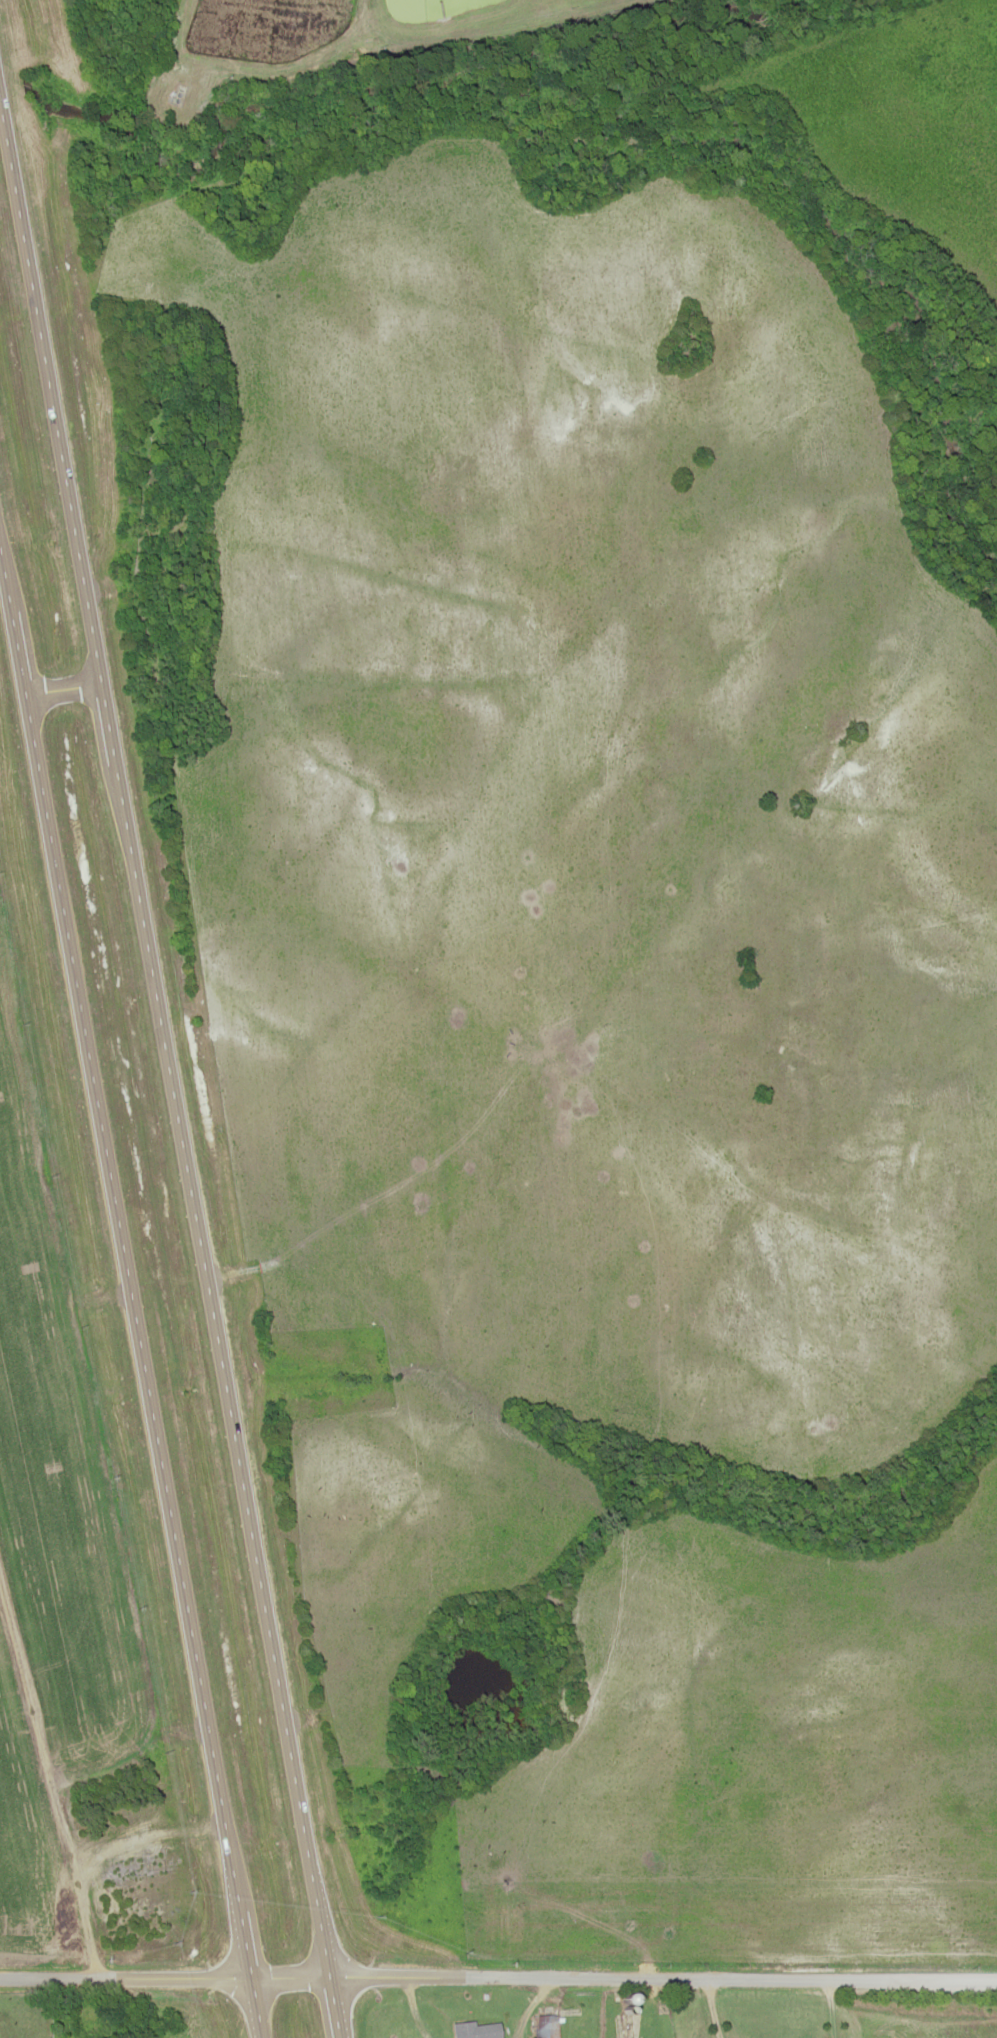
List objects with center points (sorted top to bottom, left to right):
building: (178, 93)
crop: (907, 124)
road: (51, 394)
road: (5, 586)
road: (17, 656)
road: (63, 690)
road: (109, 725)
crop: (599, 1028)
road: (132, 1304)
road: (223, 1370)
road: (44, 1770)
road: (245, 1943)
road: (164, 1972)
road: (663, 1973)
road: (256, 2006)
road: (334, 2006)
building: (146, 2024)
building: (545, 2025)
building: (476, 2029)
building: (96, 2033)

